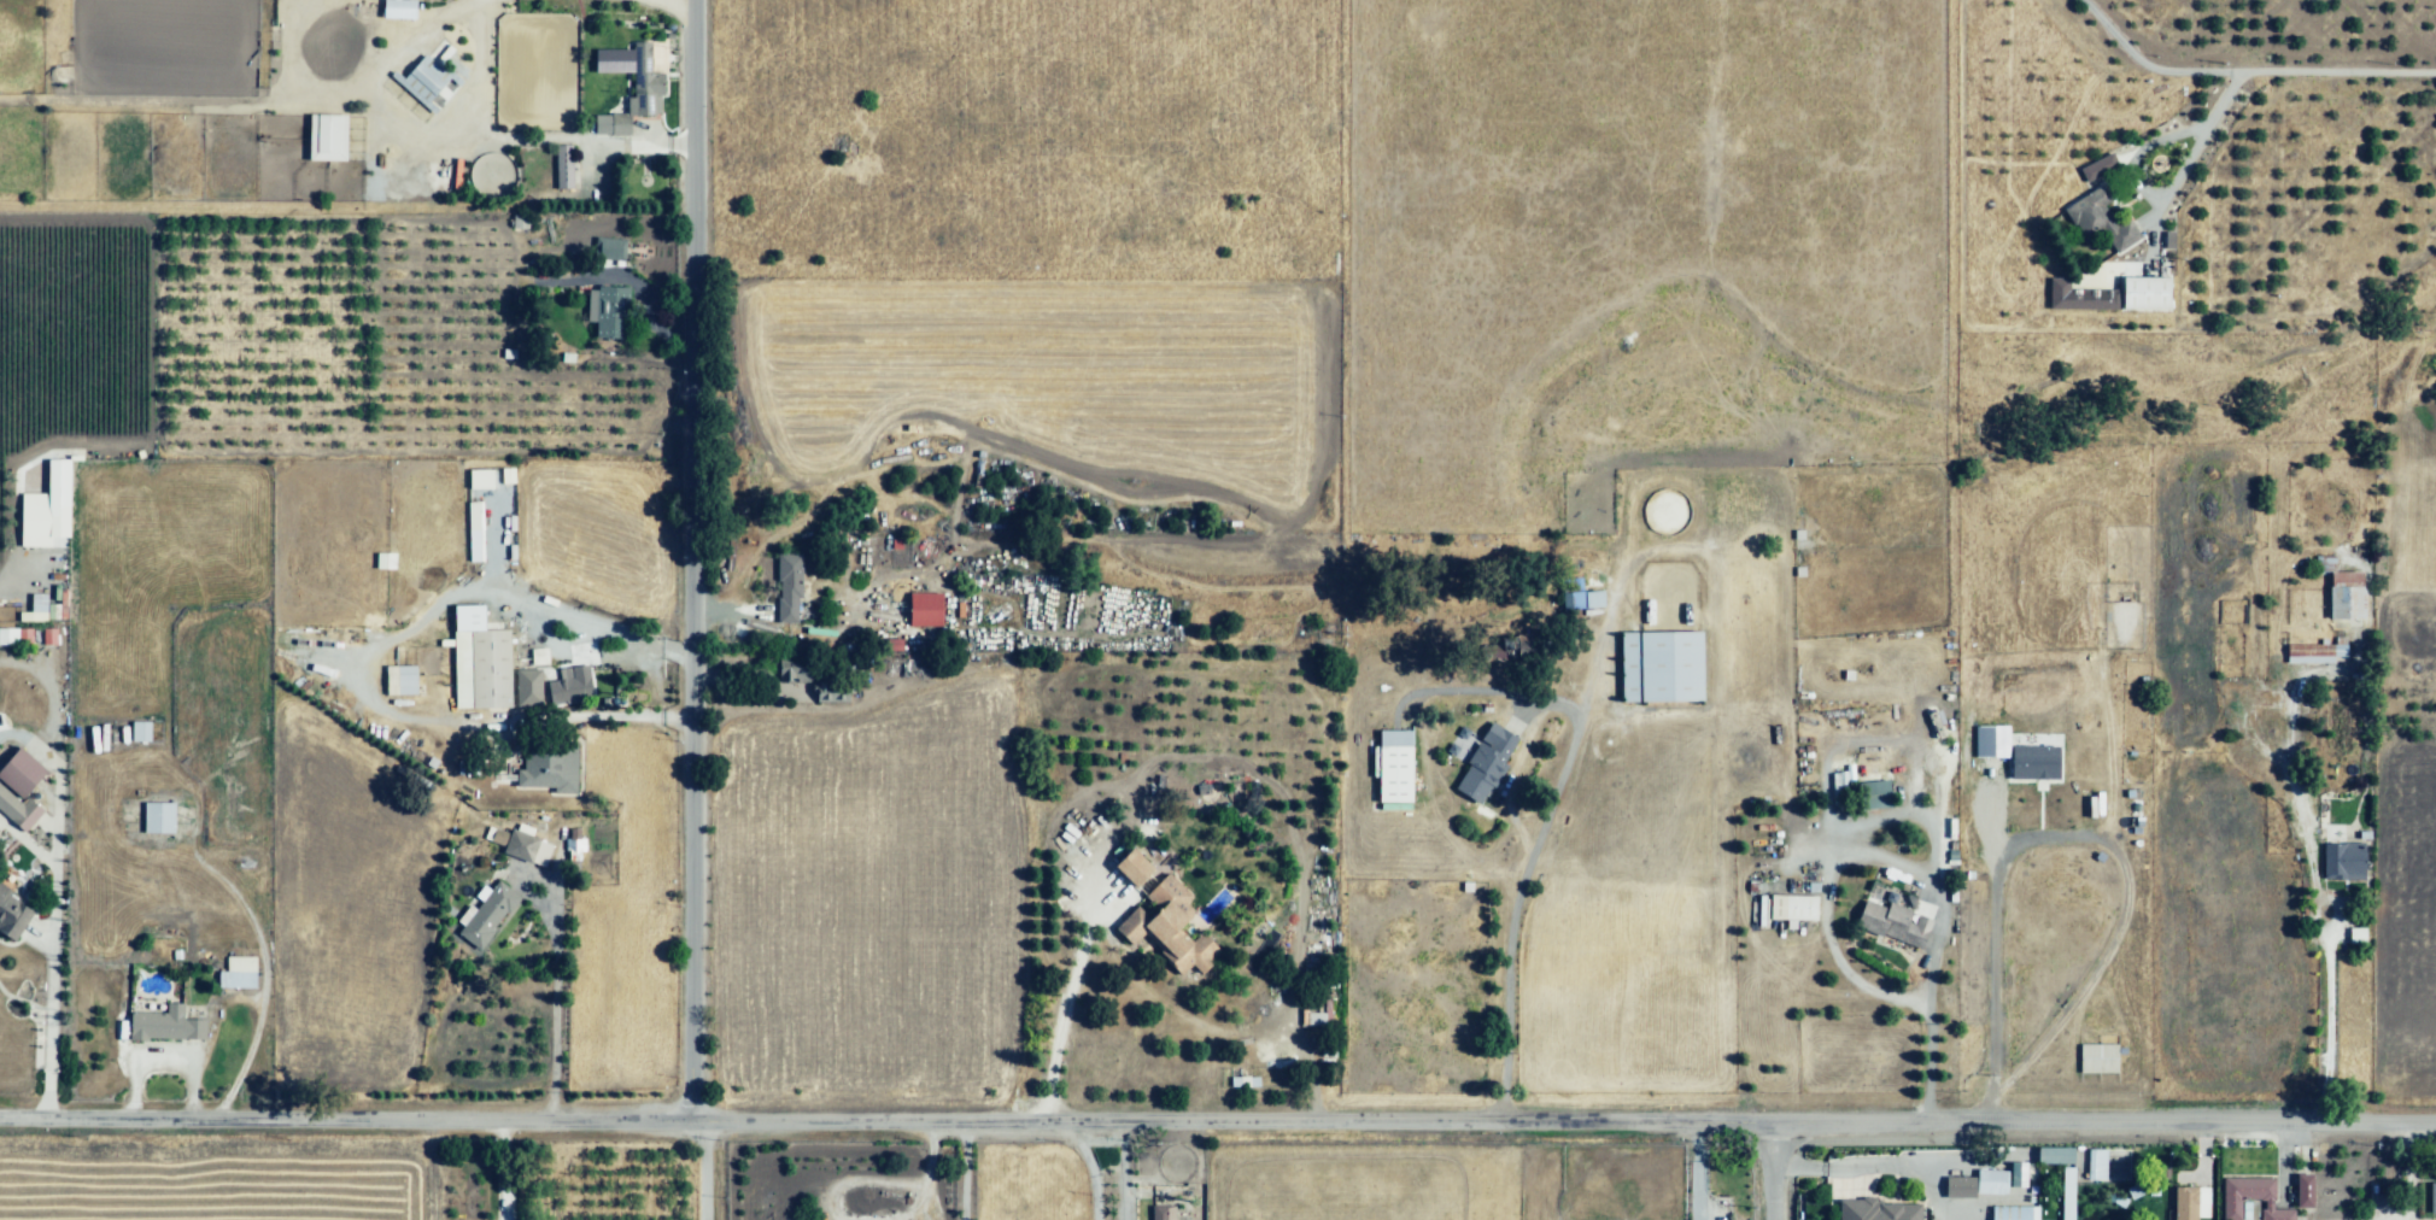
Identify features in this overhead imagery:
building: (397, 8)
road: (657, 10)
road: (2145, 66)
road: (2235, 80)
building: (424, 81)
building: (645, 82)
building: (622, 124)
building: (326, 137)
road: (446, 142)
road: (2143, 152)
building: (564, 168)
building: (2097, 168)
building: (2091, 215)
building: (521, 222)
building: (2126, 237)
building: (621, 251)
building: (574, 260)
building: (2145, 293)
building: (2078, 298)
building: (605, 307)
crop: (1738, 312)
crop: (235, 332)
building: (479, 479)
building: (35, 517)
building: (473, 532)
building: (383, 561)
building: (791, 590)
building: (2347, 594)
building: (1586, 600)
building: (35, 609)
building: (925, 609)
road: (687, 610)
building: (14, 637)
road: (781, 637)
road: (570, 650)
building: (1512, 650)
building: (2318, 653)
building: (537, 657)
building: (1662, 668)
building: (481, 669)
building: (794, 673)
building: (402, 681)
building: (528, 691)
building: (830, 692)
building: (561, 693)
road: (1486, 697)
building: (139, 732)
road: (1887, 739)
building: (1990, 741)
building: (2032, 763)
building: (552, 764)
building: (1487, 764)
building: (29, 768)
building: (1395, 768)
building: (910, 782)
building: (1838, 788)
building: (17, 797)
building: (1874, 797)
road: (1440, 805)
building: (158, 816)
building: (521, 841)
building: (2342, 863)
road: (1907, 872)
road: (59, 874)
building: (1793, 909)
building: (915, 913)
building: (1762, 913)
building: (14, 916)
building: (486, 916)
building: (1163, 919)
building: (1895, 922)
road: (1501, 925)
road: (2325, 931)
building: (2358, 939)
building: (242, 968)
road: (555, 992)
road: (1064, 1004)
building: (168, 1023)
building: (1857, 1039)
building: (2097, 1058)
road: (1218, 1131)
building: (2056, 1156)
building: (2097, 1167)
road: (1091, 1172)
building: (2016, 1174)
road: (2409, 1174)
road: (503, 1175)
road: (948, 1175)
road: (1126, 1175)
road: (1770, 1177)
building: (1992, 1183)
crop: (216, 1184)
building: (1960, 1189)
building: (2307, 1192)
building: (2068, 1195)
building: (2253, 1197)
building: (2431, 1197)
building: (2189, 1203)
building: (1880, 1210)
building: (1165, 1214)
building: (2015, 1214)

